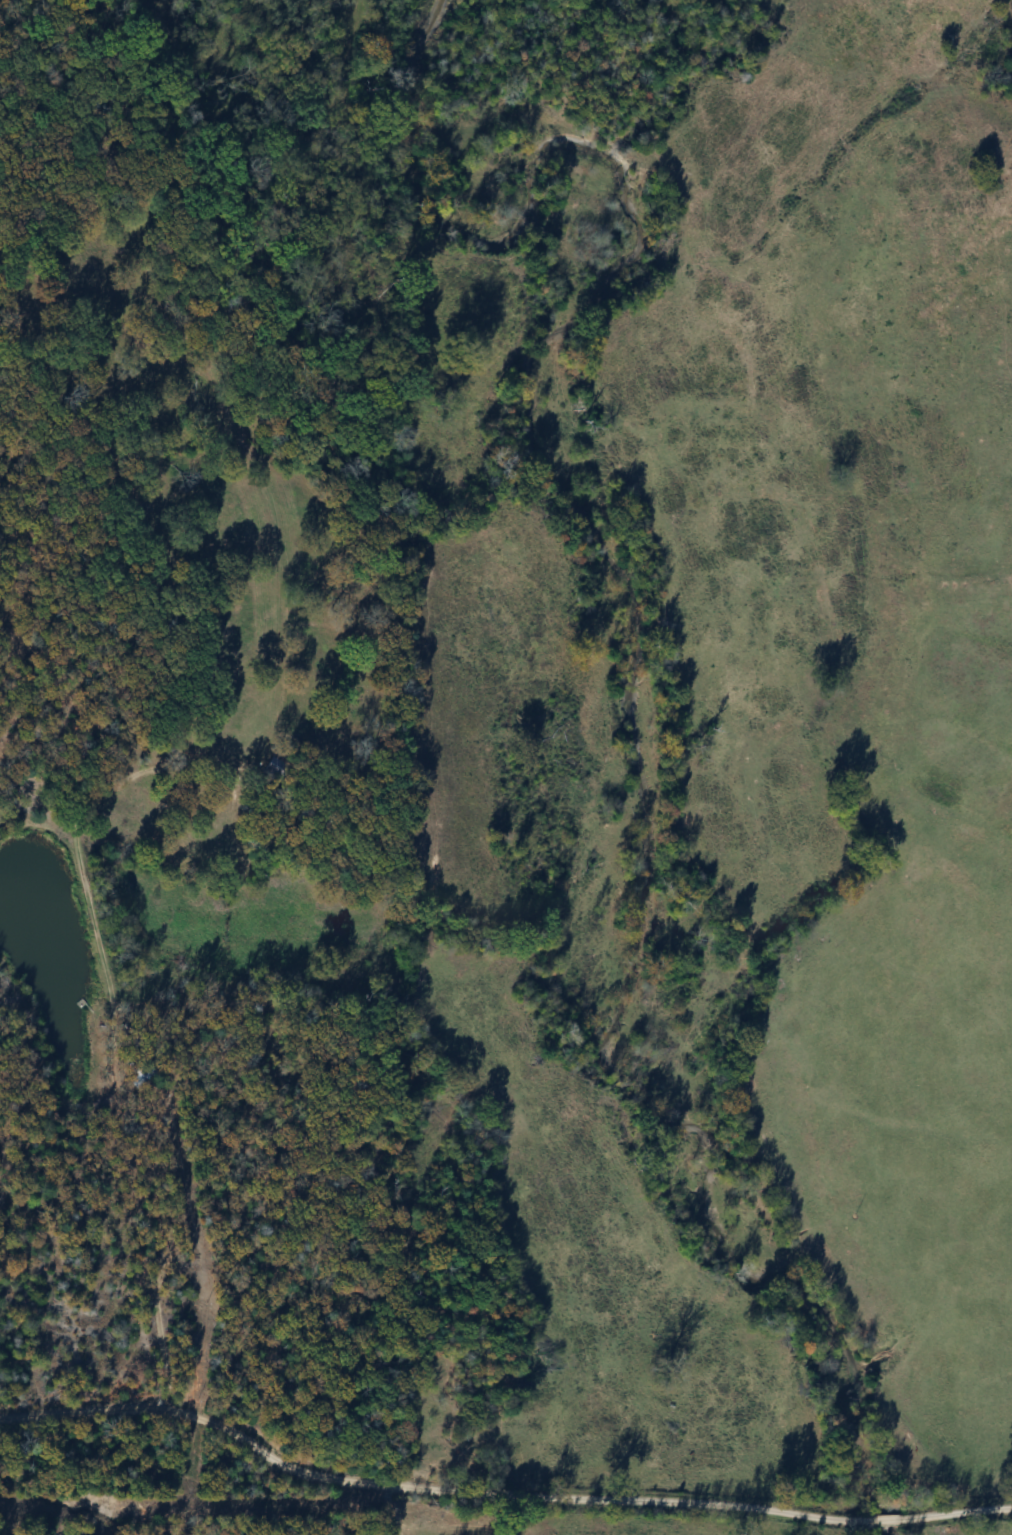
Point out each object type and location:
road: (497, 1496)
road: (397, 1511)

